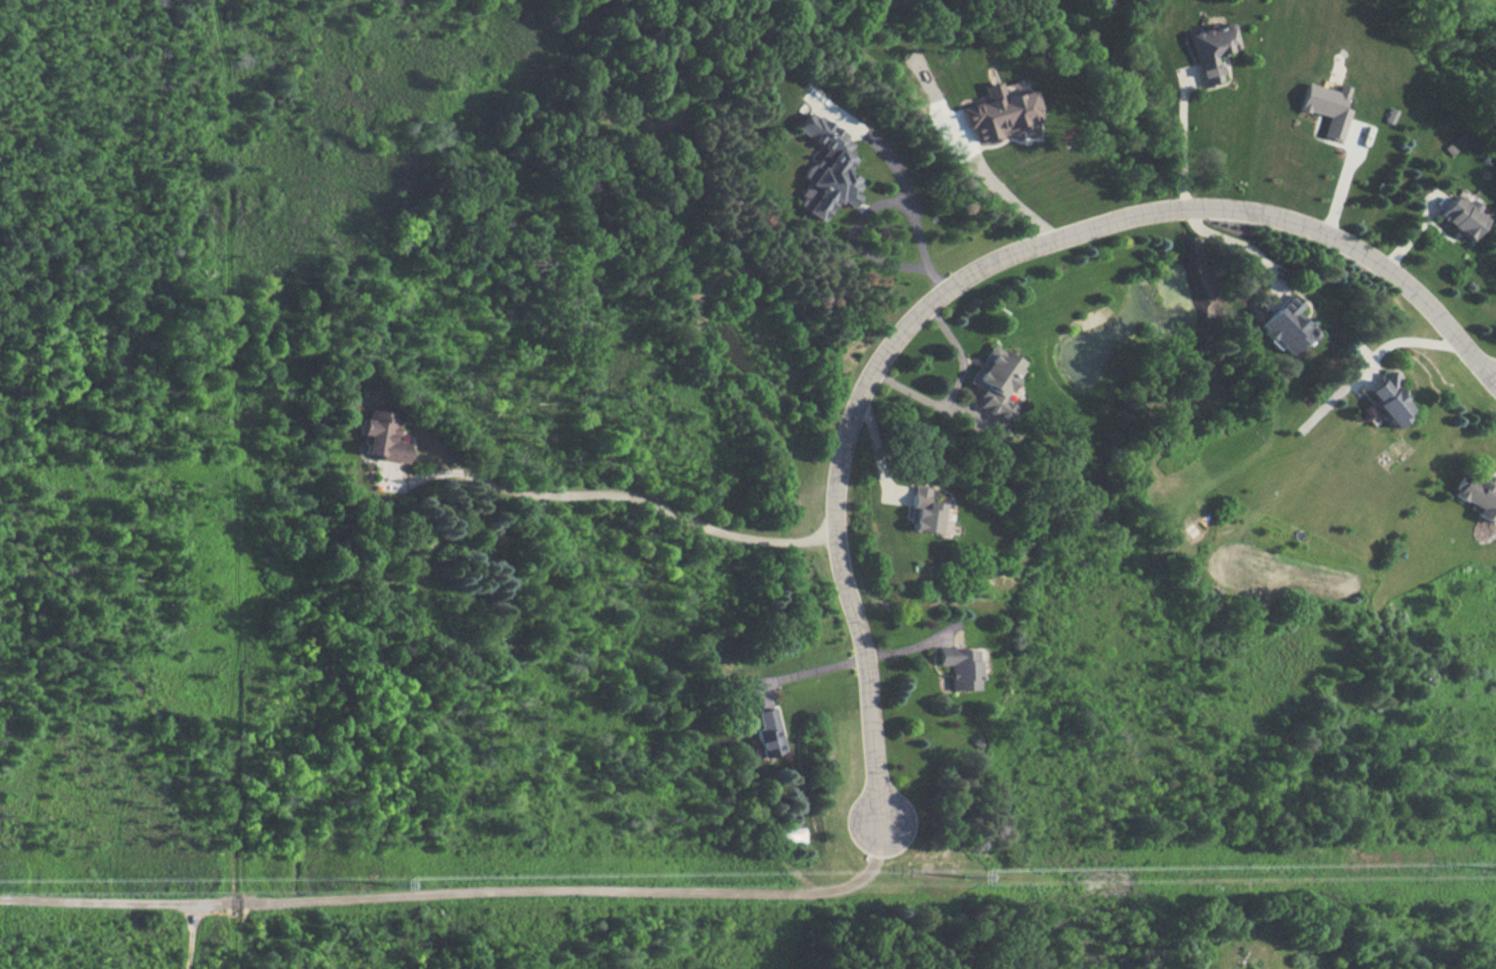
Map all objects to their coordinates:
building: (1212, 49)
building: (1326, 107)
building: (1000, 113)
road: (1180, 145)
building: (827, 167)
road: (1342, 181)
road: (999, 187)
road: (875, 203)
building: (1462, 213)
road: (1228, 237)
road: (965, 278)
building: (1284, 324)
road: (1408, 341)
building: (994, 380)
road: (955, 389)
building: (1383, 398)
building: (383, 437)
road: (623, 495)
building: (1478, 495)
building: (924, 512)
building: (960, 667)
road: (815, 669)
building: (769, 733)
power tower: (950, 874)
power tower: (384, 884)
road: (457, 897)

